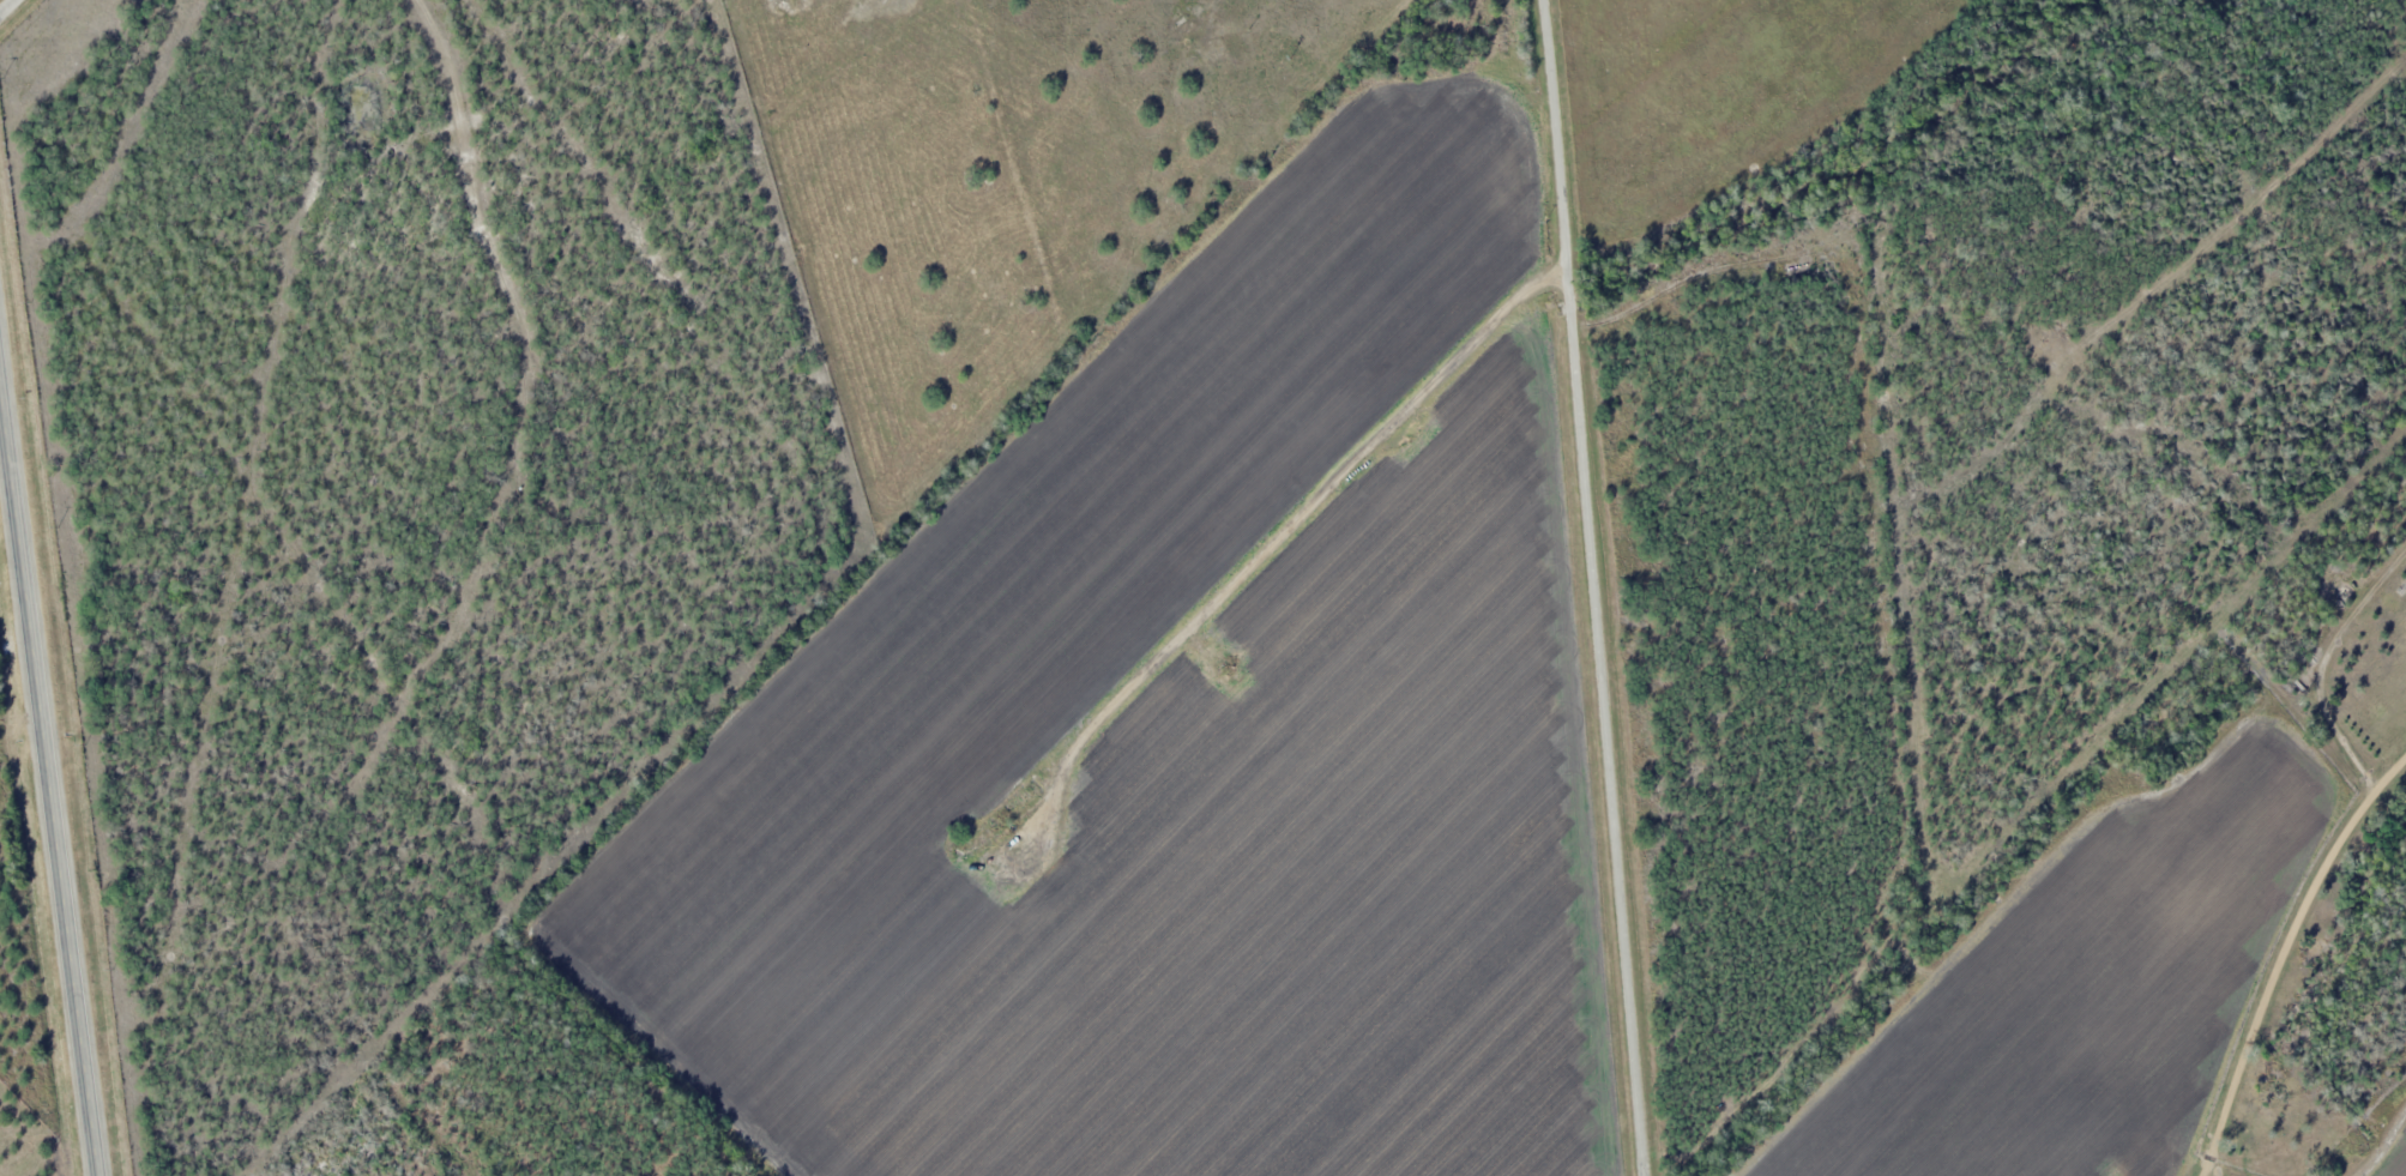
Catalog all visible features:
road: (6, 6)
road: (1602, 587)
road: (49, 770)
road: (2268, 958)

